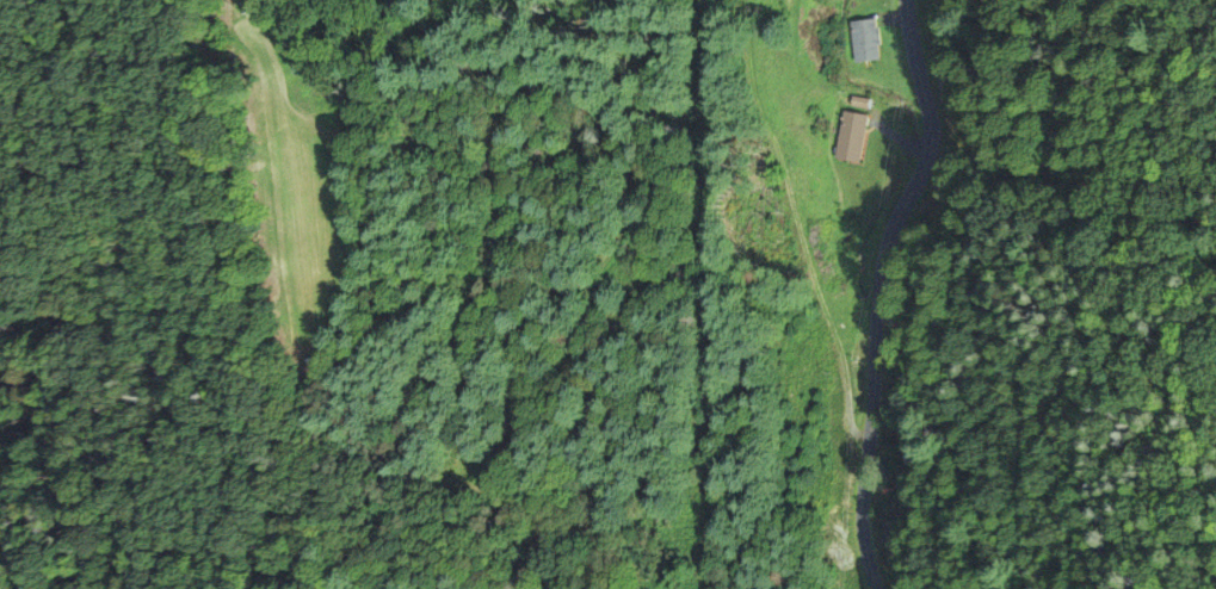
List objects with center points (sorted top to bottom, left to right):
building: (860, 39)
building: (846, 136)
road: (879, 289)
building: (846, 387)

